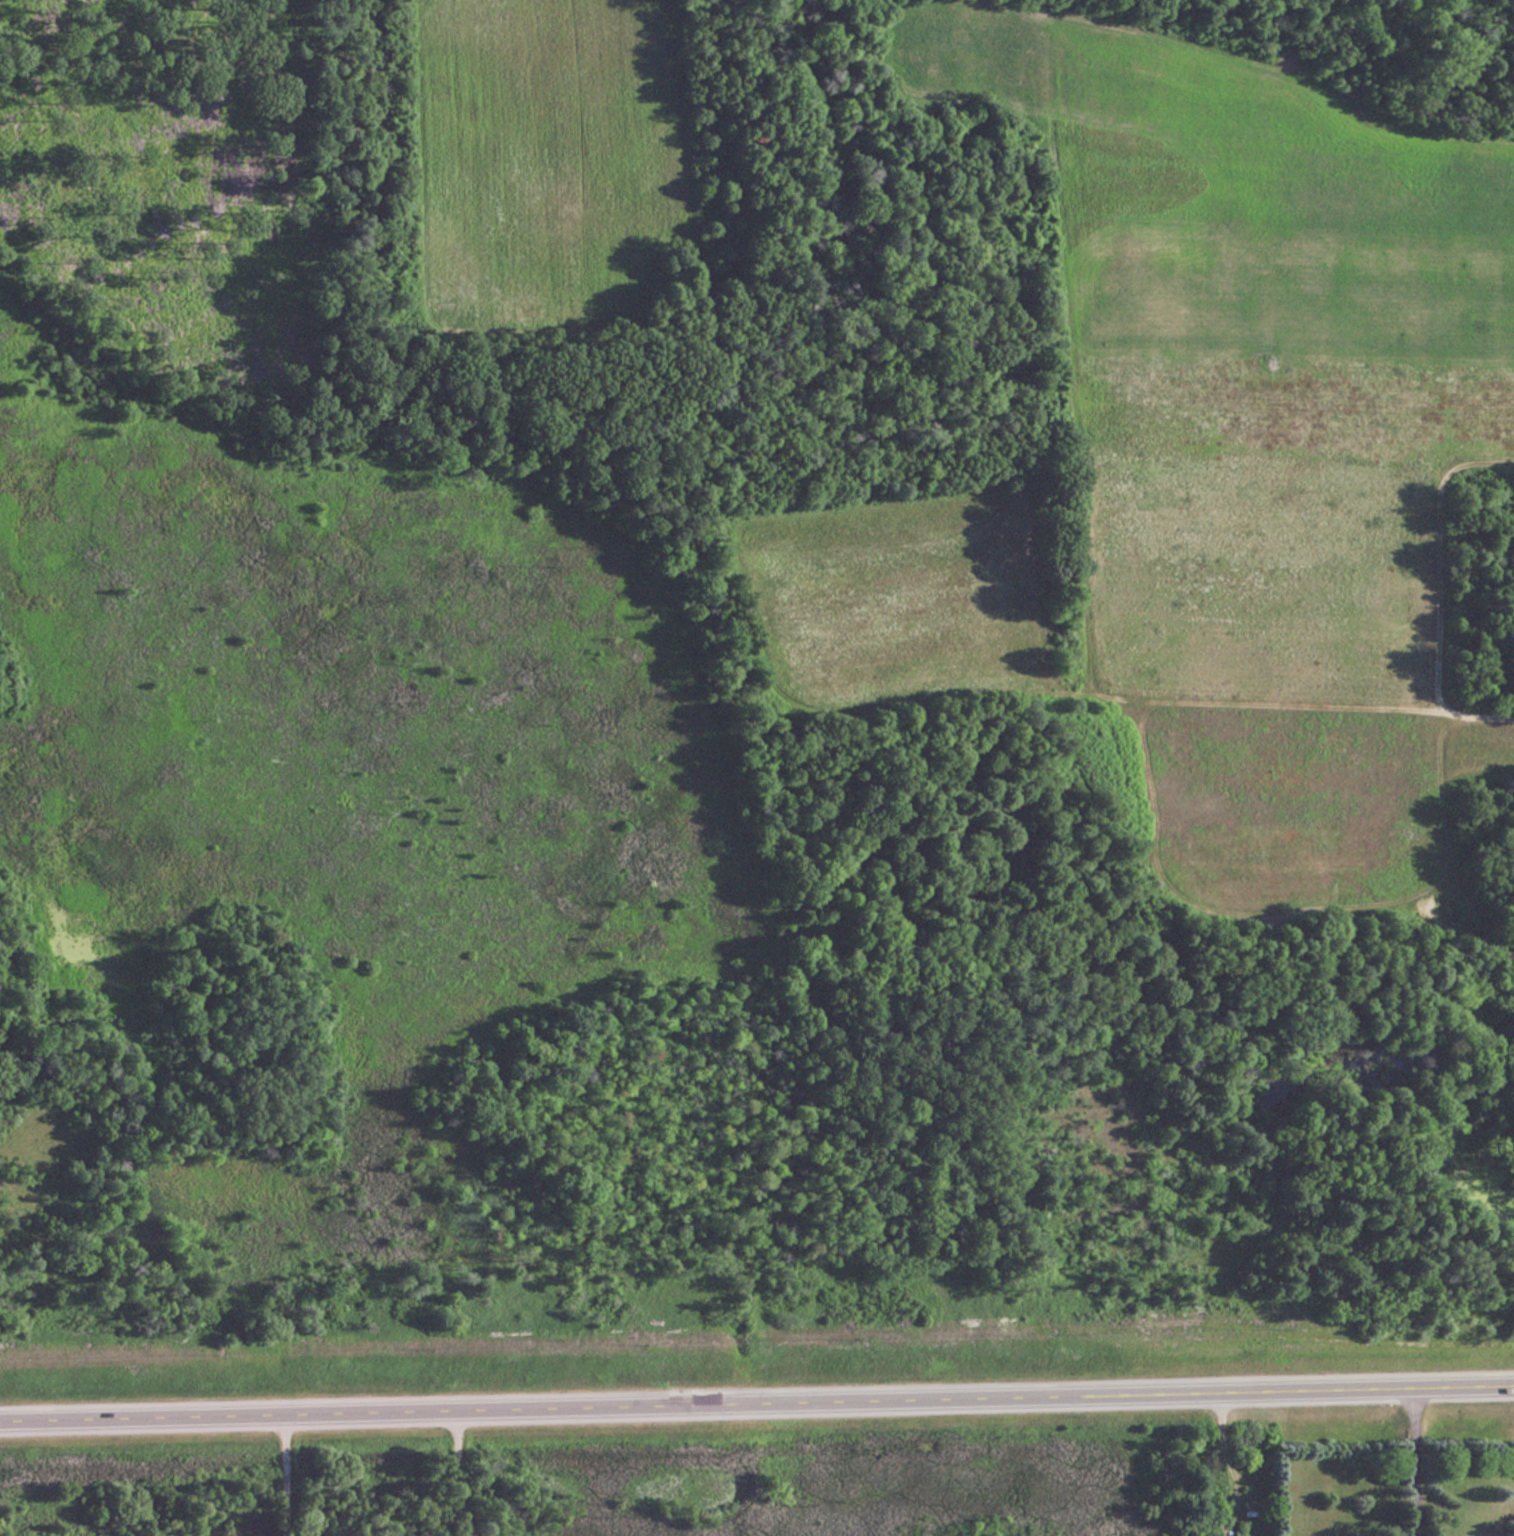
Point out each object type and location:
park: (149, 721)
road: (757, 1405)
road: (1412, 1462)
road: (282, 1477)
building: (1215, 1529)

